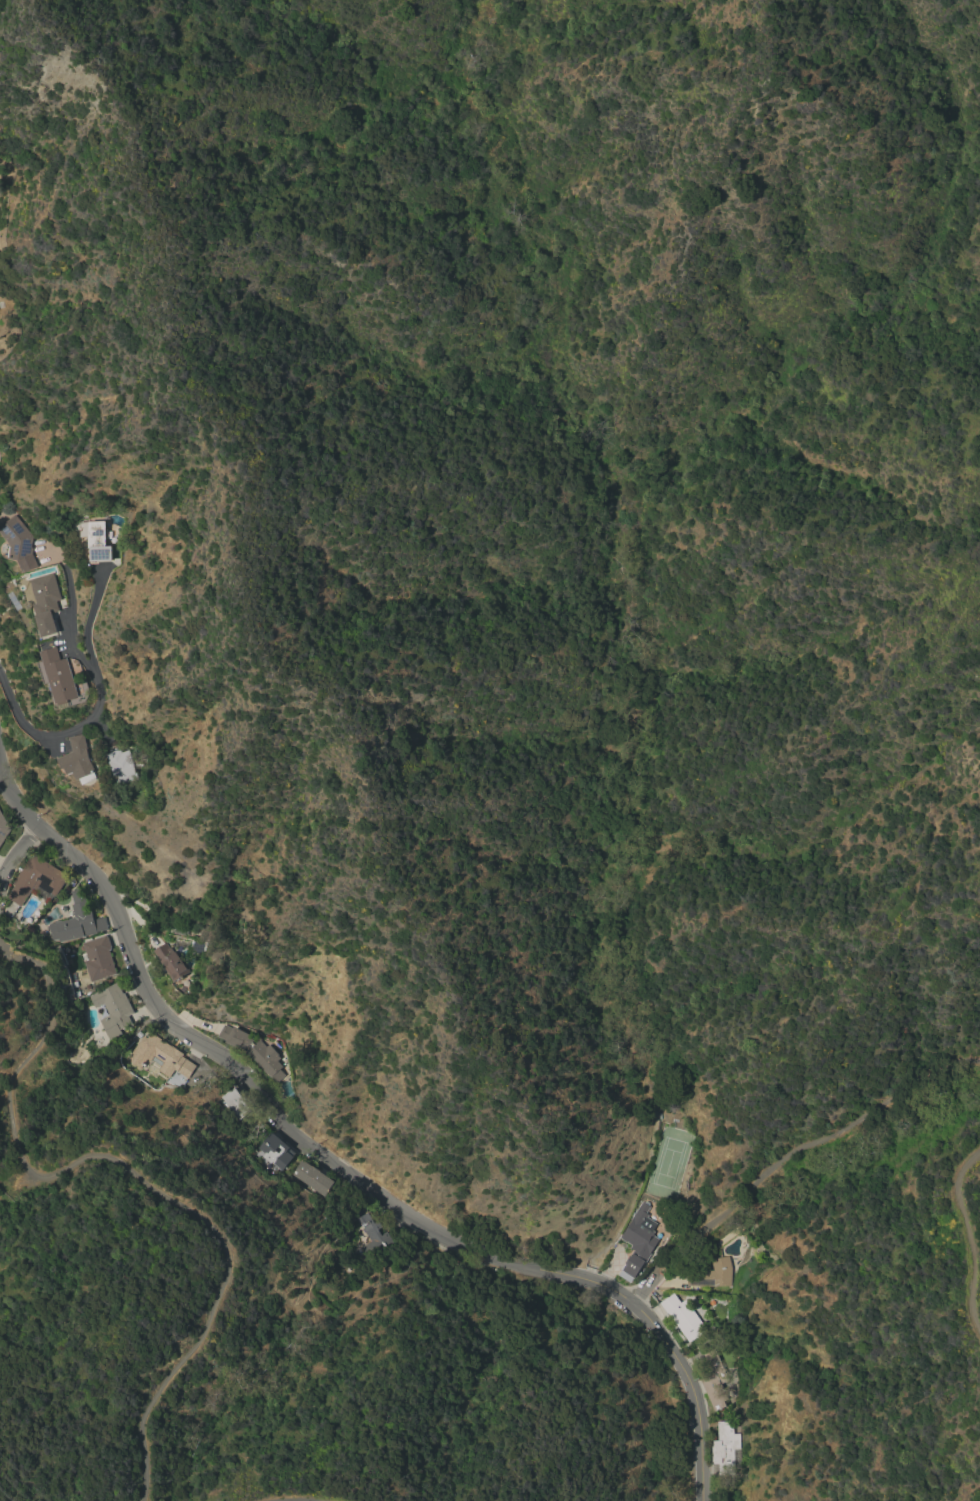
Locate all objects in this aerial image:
building: (94, 540)
building: (20, 542)
building: (14, 600)
building: (46, 602)
road: (69, 611)
road: (86, 621)
building: (60, 675)
road: (53, 732)
building: (78, 760)
building: (123, 766)
building: (3, 828)
road: (14, 854)
building: (36, 879)
building: (77, 921)
building: (209, 933)
building: (197, 947)
building: (98, 958)
building: (172, 962)
building: (113, 1009)
building: (253, 1050)
building: (160, 1055)
building: (237, 1103)
building: (275, 1151)
road: (787, 1154)
road: (345, 1172)
road: (136, 1175)
building: (313, 1177)
building: (373, 1236)
road: (969, 1238)
building: (638, 1241)
building: (712, 1274)
building: (683, 1317)
building: (714, 1380)
building: (726, 1449)
road: (295, 1499)

